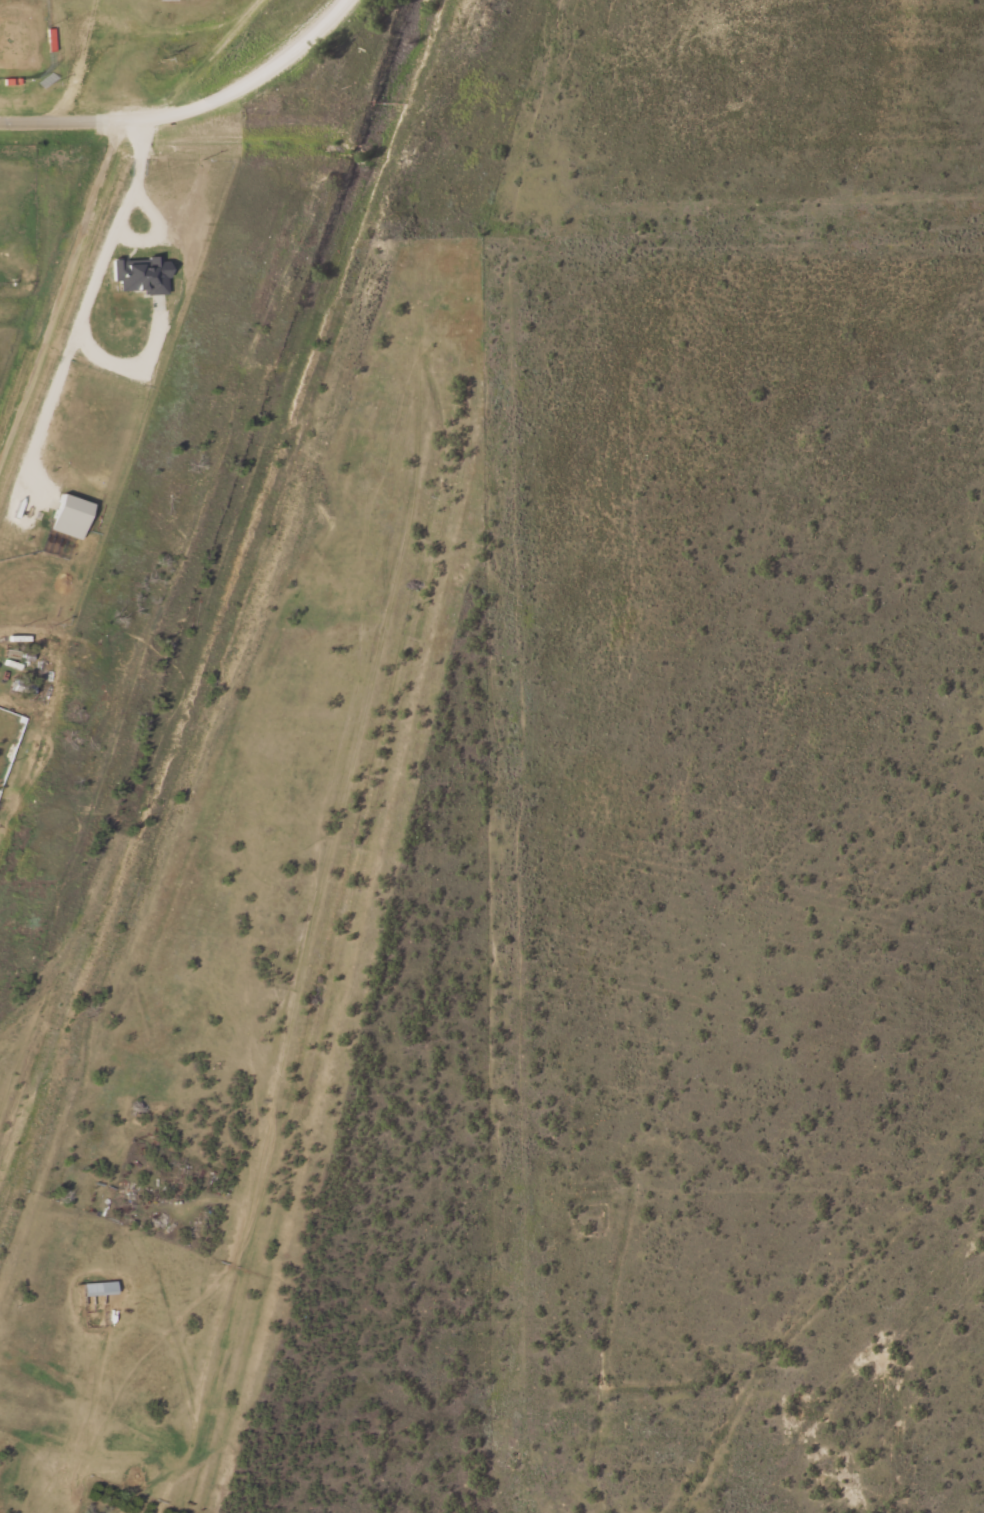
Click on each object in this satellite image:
park: (22, 38)
road: (249, 87)
road: (59, 121)
road: (156, 228)
building: (144, 275)
road: (59, 288)
road: (83, 309)
road: (132, 362)
building: (71, 515)
railway: (232, 638)

